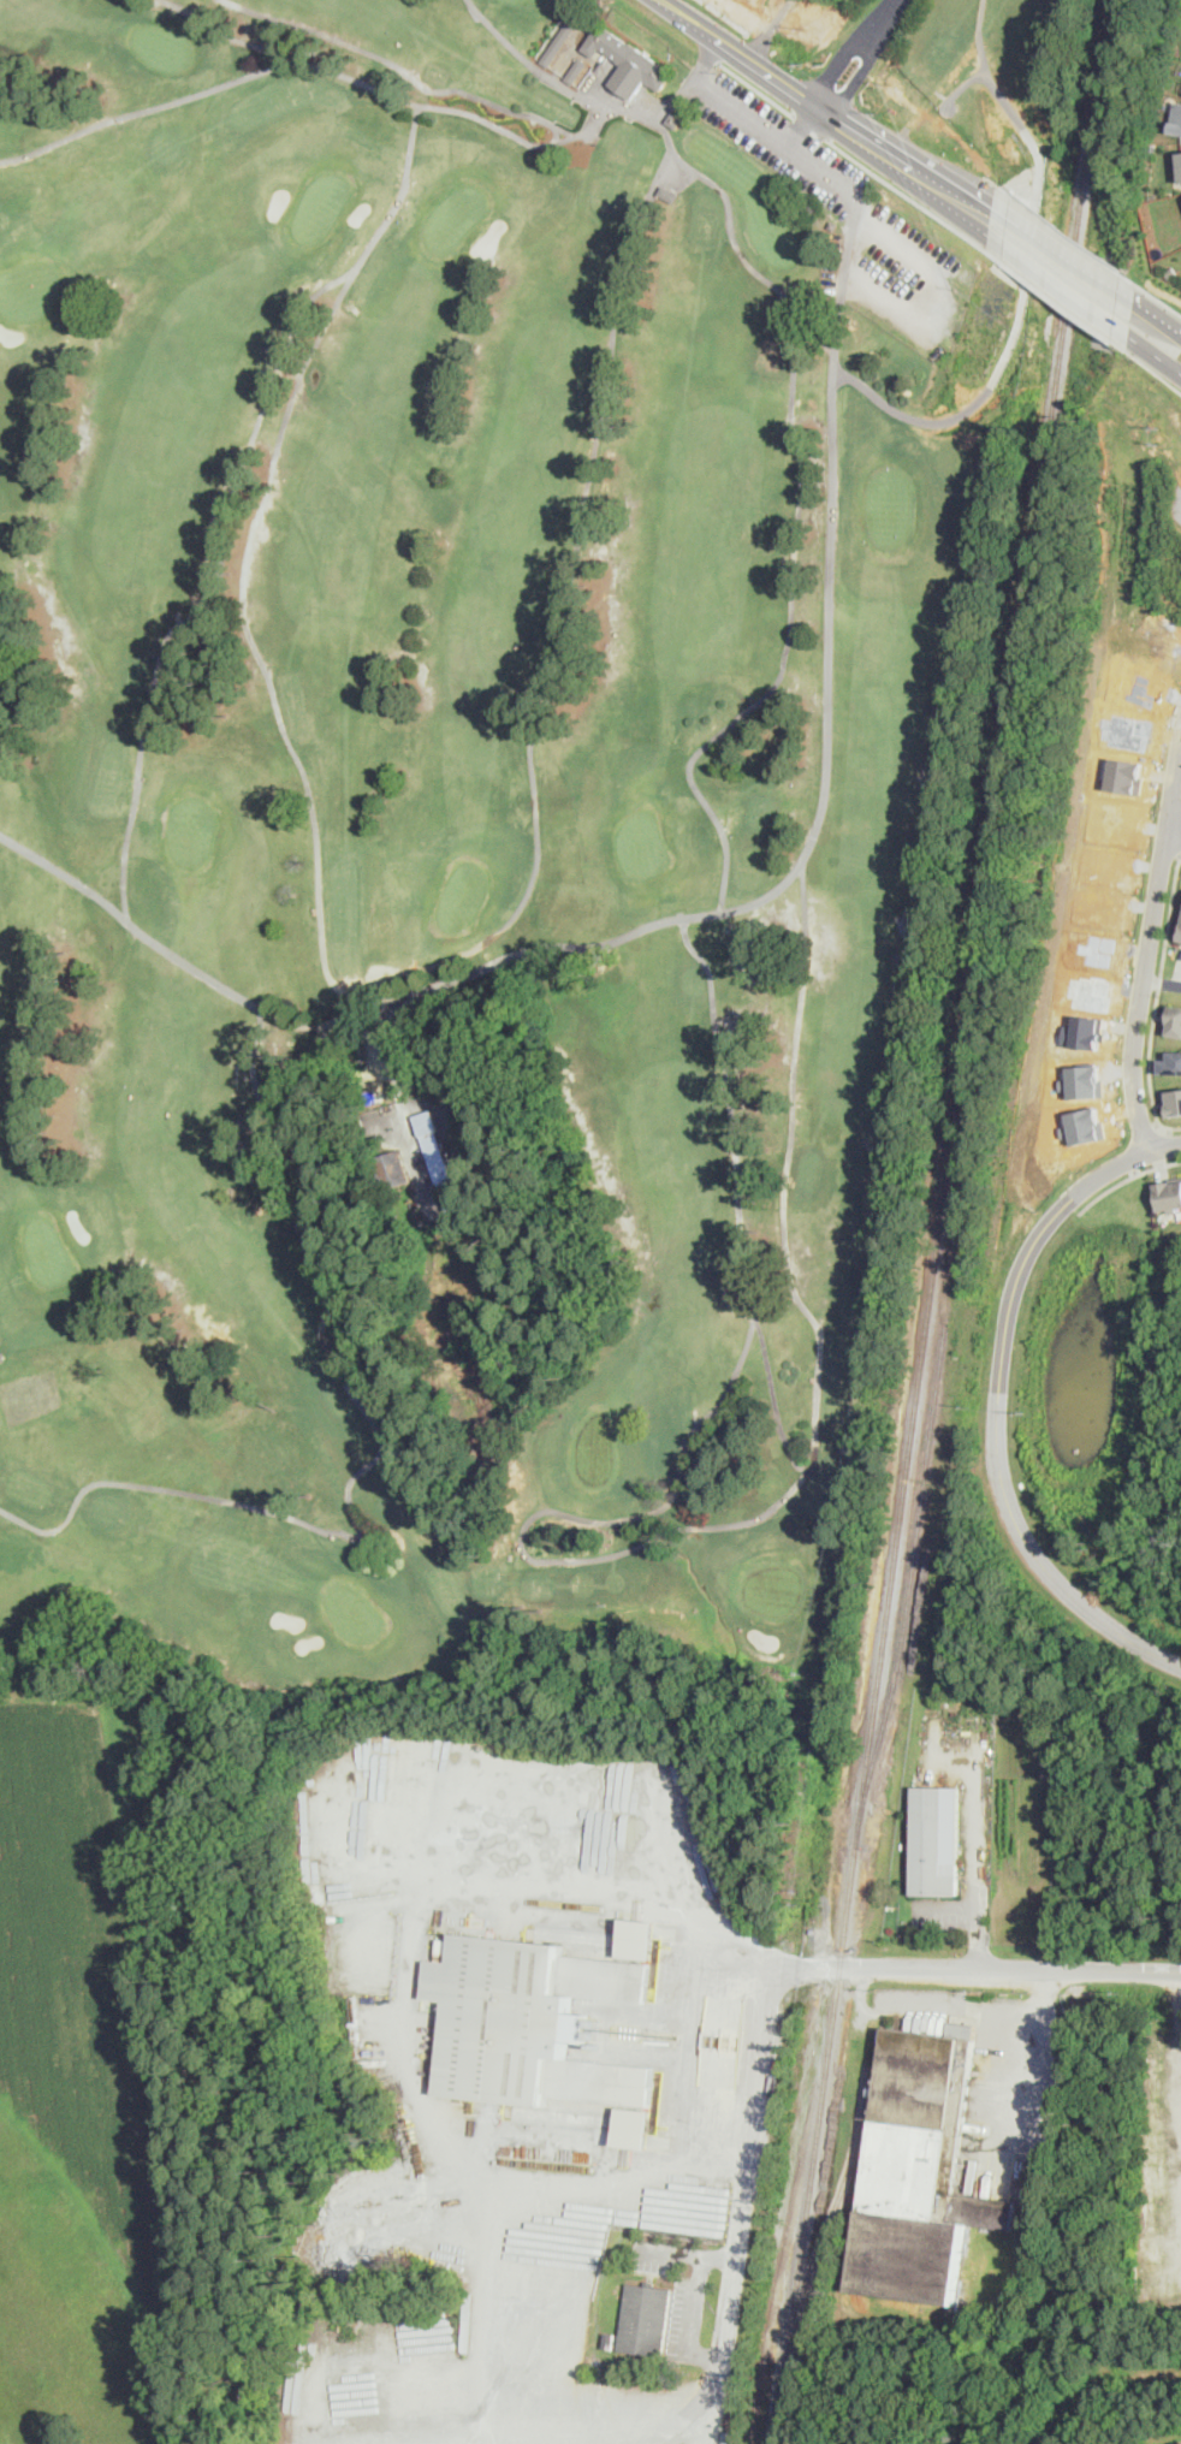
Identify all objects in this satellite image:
road: (776, 17)
road: (788, 23)
building: (563, 38)
road: (857, 55)
road: (711, 58)
road: (848, 61)
building: (627, 63)
building: (576, 71)
road: (853, 99)
road: (825, 115)
building: (675, 120)
road: (753, 121)
road: (811, 126)
building: (1180, 127)
road: (807, 130)
road: (936, 131)
building: (1180, 164)
building: (667, 195)
road: (913, 201)
building: (833, 225)
road: (1073, 237)
road: (1066, 250)
building: (1170, 271)
road: (844, 279)
parking lot: (908, 280)
road: (1023, 280)
road: (1057, 284)
road: (1164, 302)
road: (1063, 304)
road: (1159, 318)
road: (1155, 354)
road: (1153, 370)
road: (1145, 573)
park: (482, 805)
road: (815, 825)
road: (1173, 829)
road: (1135, 909)
building: (1180, 933)
road: (1147, 937)
road: (1161, 983)
road: (1156, 999)
building: (1171, 1019)
building: (1170, 1061)
building: (1171, 1099)
road: (1146, 1132)
road: (1163, 1145)
building: (437, 1158)
road: (1090, 1162)
building: (393, 1170)
building: (468, 1176)
road: (1126, 1181)
building: (1169, 1193)
railway: (939, 1220)
building: (2, 1357)
building: (874, 1360)
road: (995, 1416)
railway: (909, 1580)
building: (934, 1840)
road: (975, 1846)
road: (944, 1904)
road: (420, 1921)
building: (636, 1939)
road: (735, 1973)
road: (1041, 1991)
road: (773, 2007)
road: (928, 2007)
building: (529, 2023)
road: (1180, 2047)
crop: (97, 2058)
road: (1019, 2076)
building: (633, 2128)
building: (920, 2172)
railway: (832, 2211)
building: (340, 2315)
building: (646, 2320)
building: (610, 2341)

